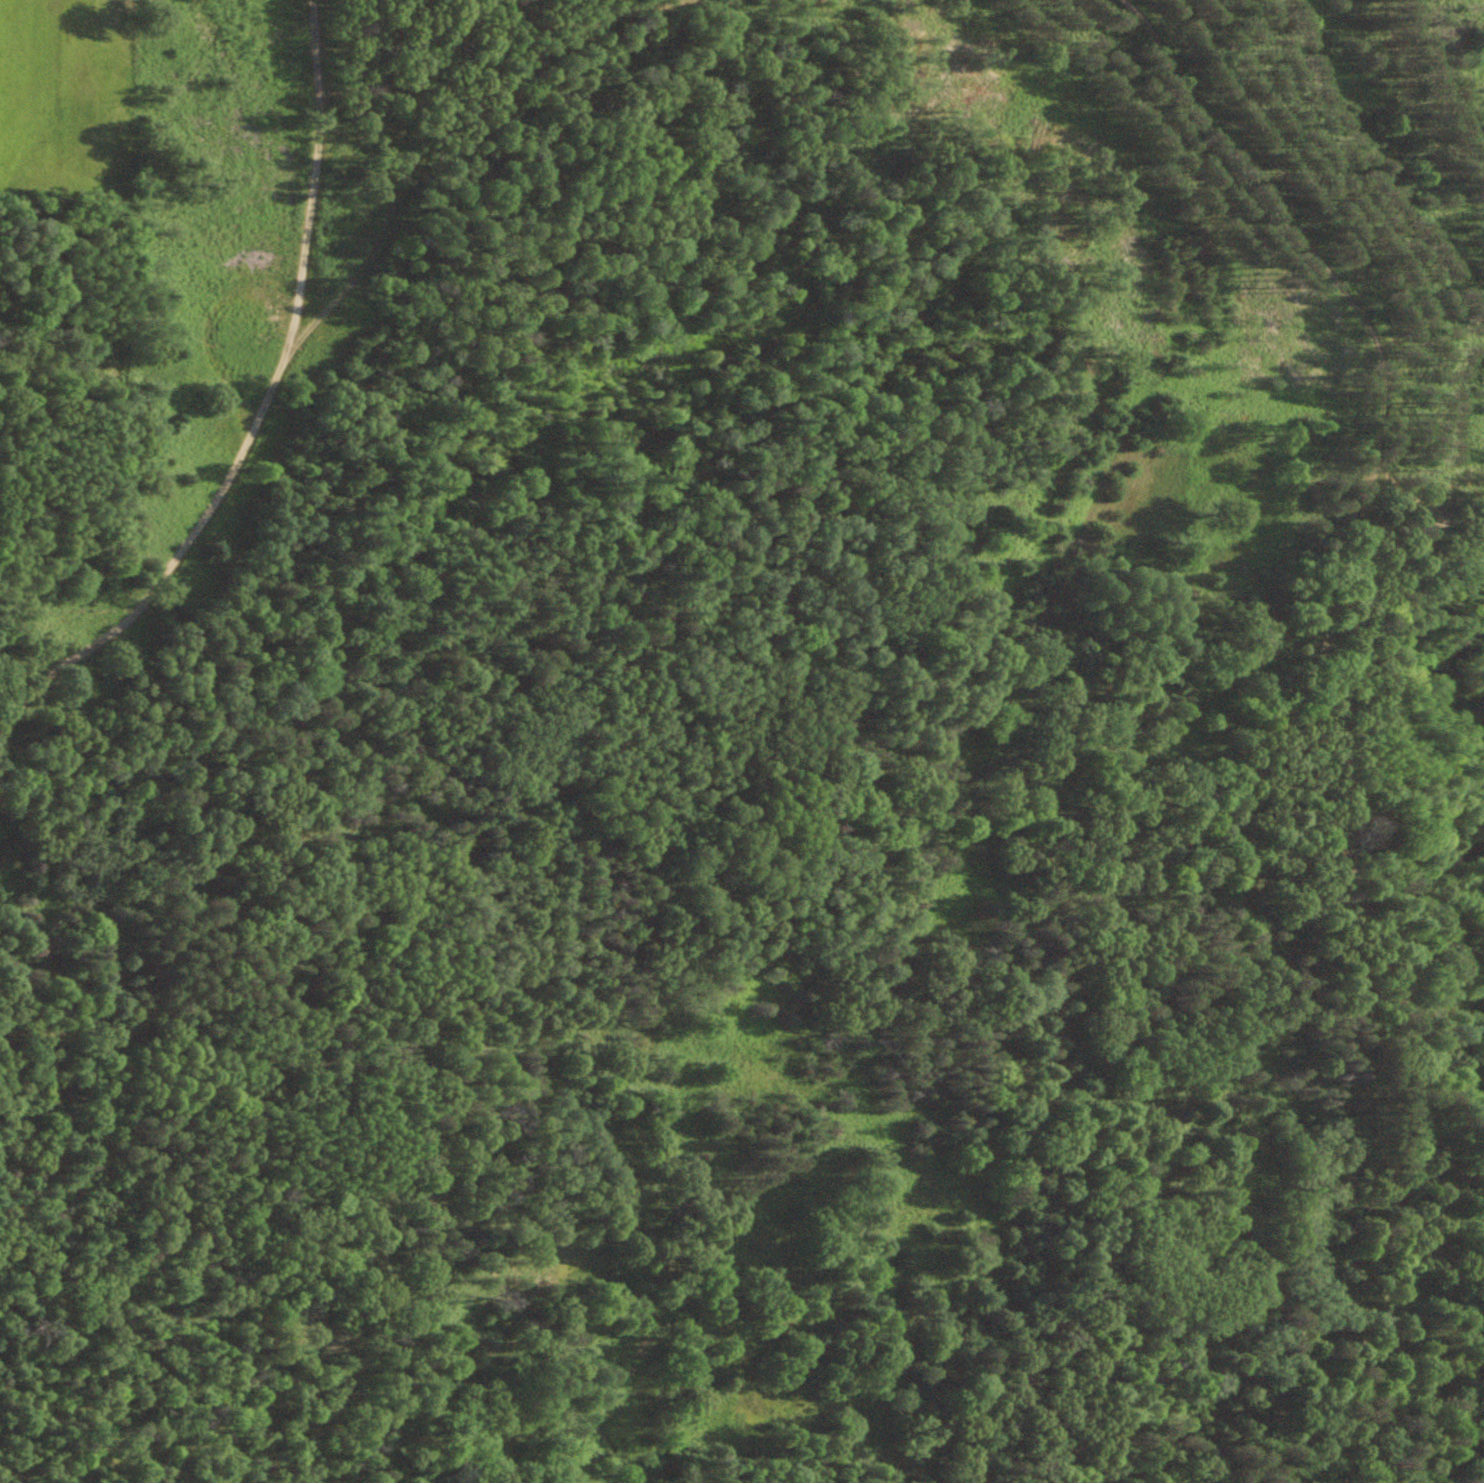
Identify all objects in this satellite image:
road: (313, 174)
road: (302, 335)
road: (1418, 492)
road: (1284, 709)
road: (411, 1123)

